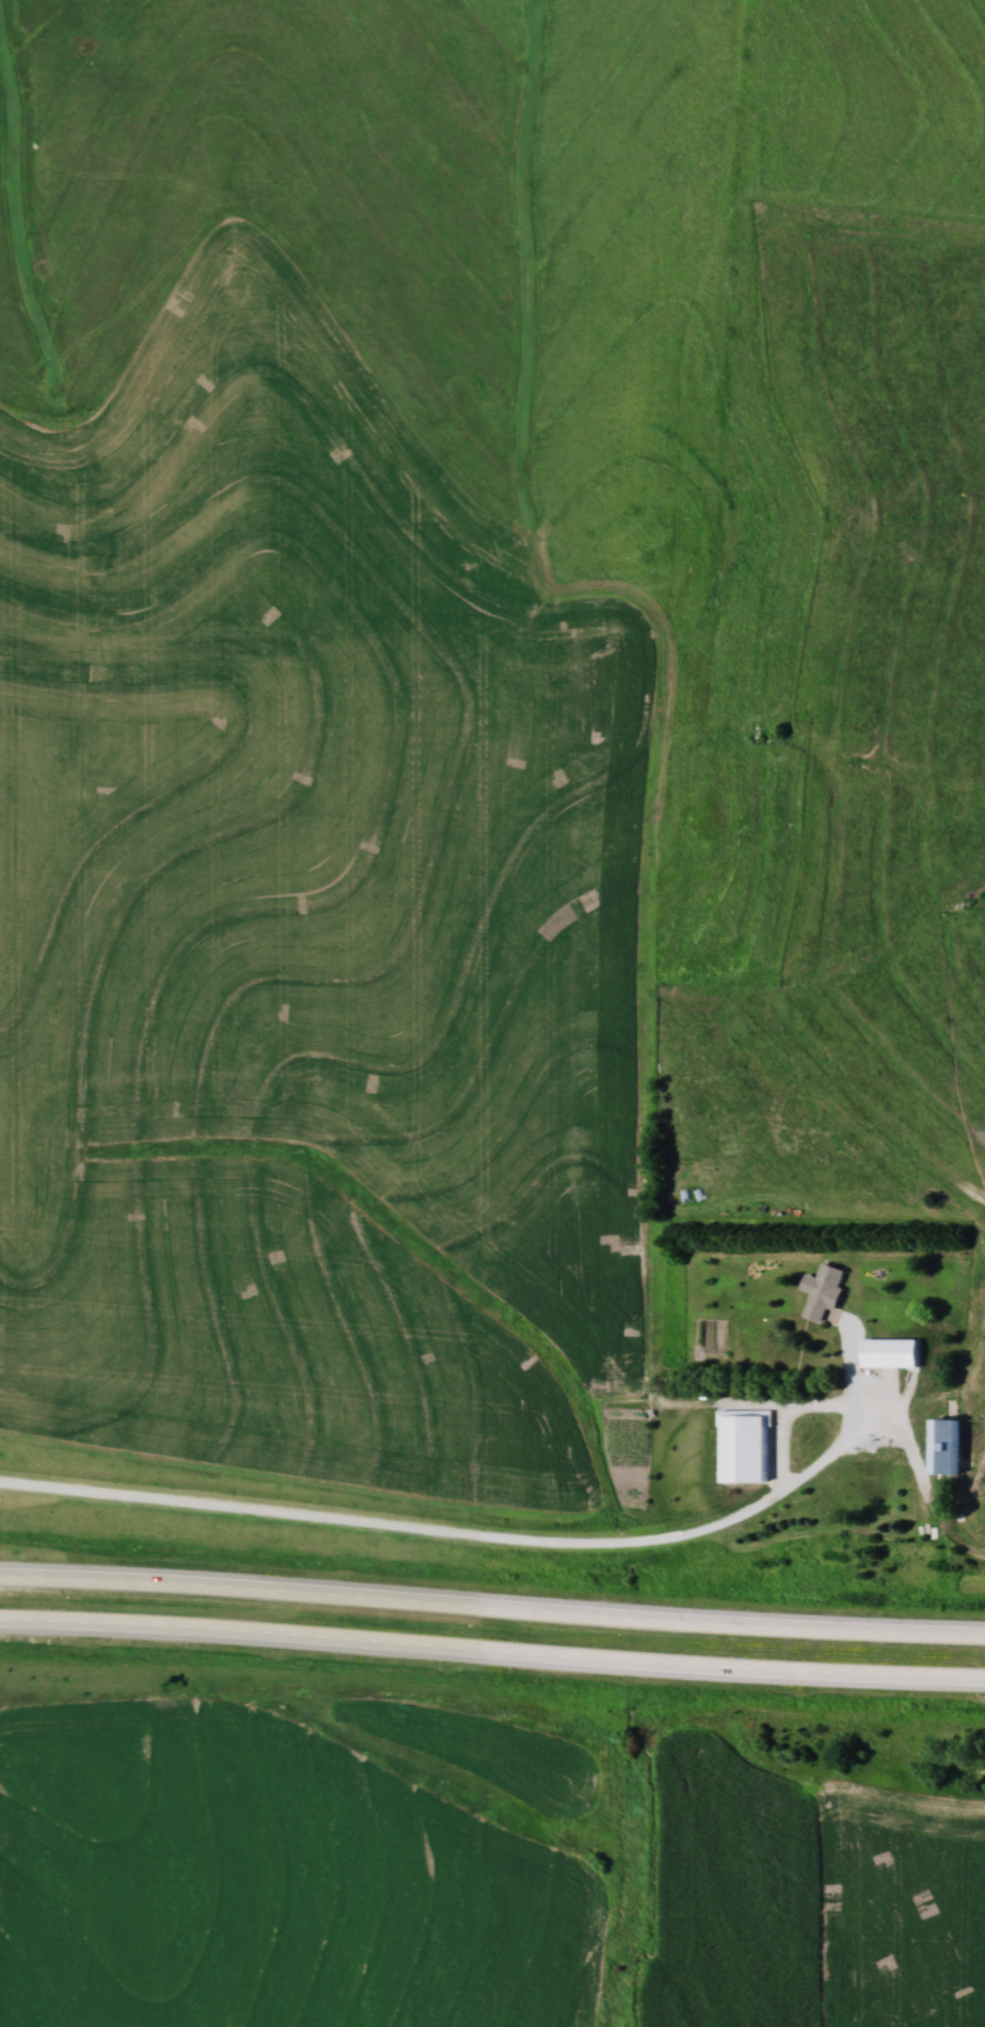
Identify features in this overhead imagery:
building: (825, 1290)
building: (890, 1352)
building: (944, 1446)
road: (499, 1541)
road: (492, 1612)
road: (492, 1653)

